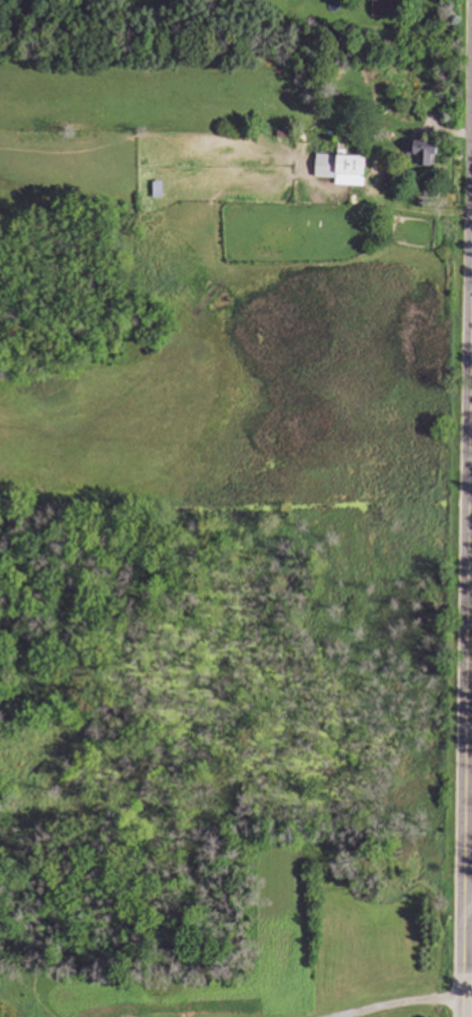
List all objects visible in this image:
building: (388, 11)
building: (423, 157)
building: (341, 171)
road: (467, 676)
road: (468, 905)
crop: (471, 987)
road: (398, 1001)

